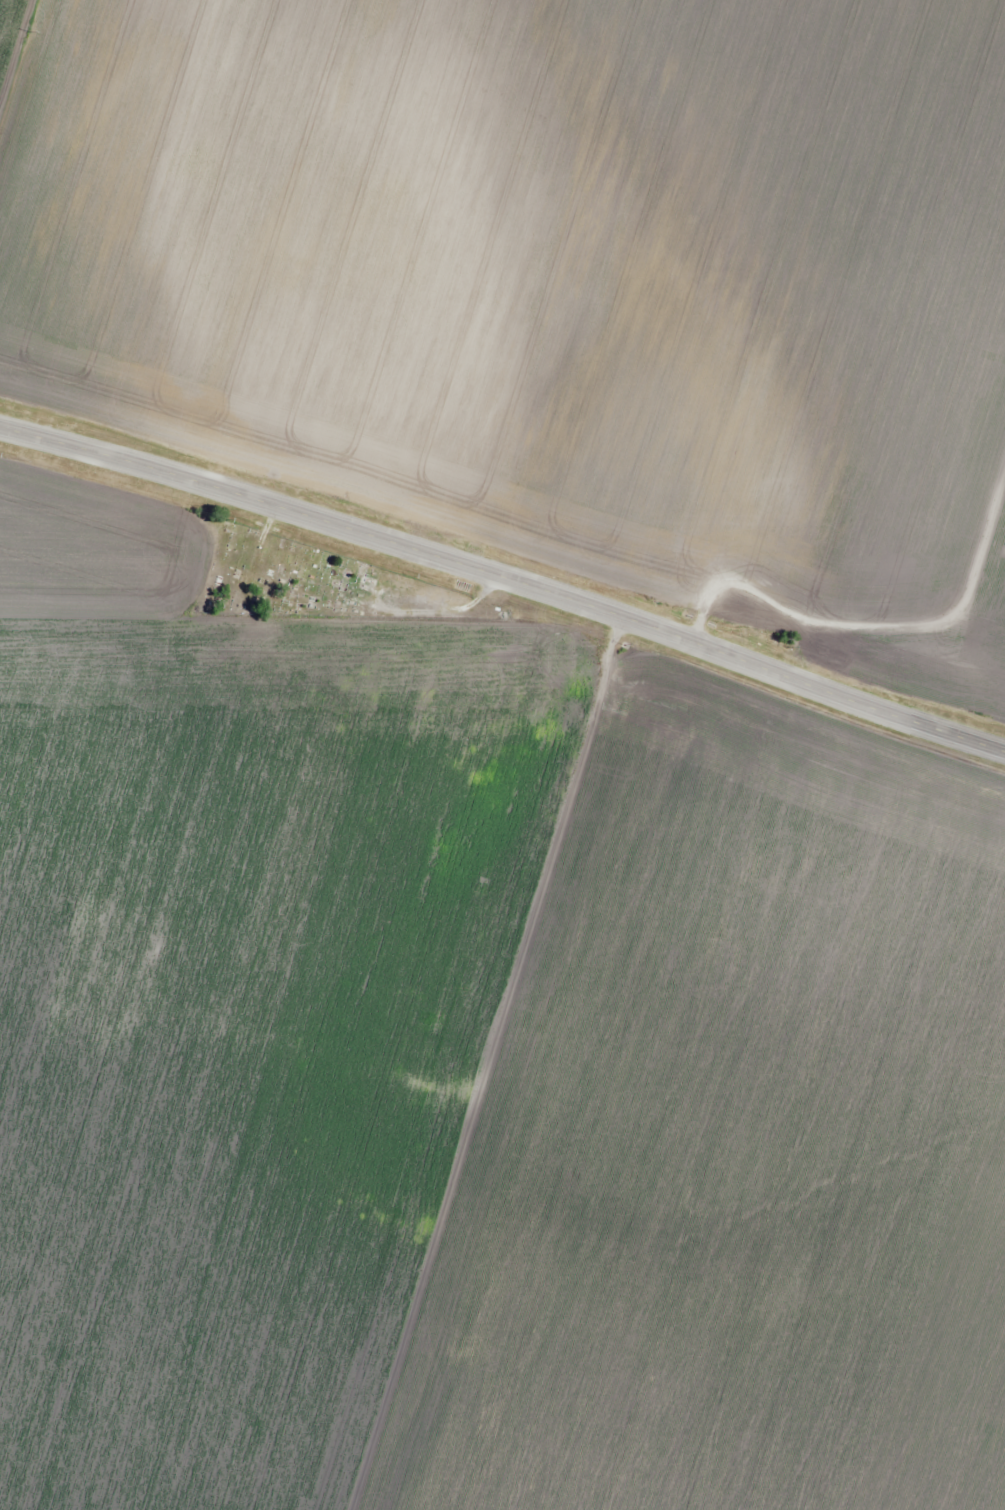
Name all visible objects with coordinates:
road: (21, 64)
road: (502, 586)

